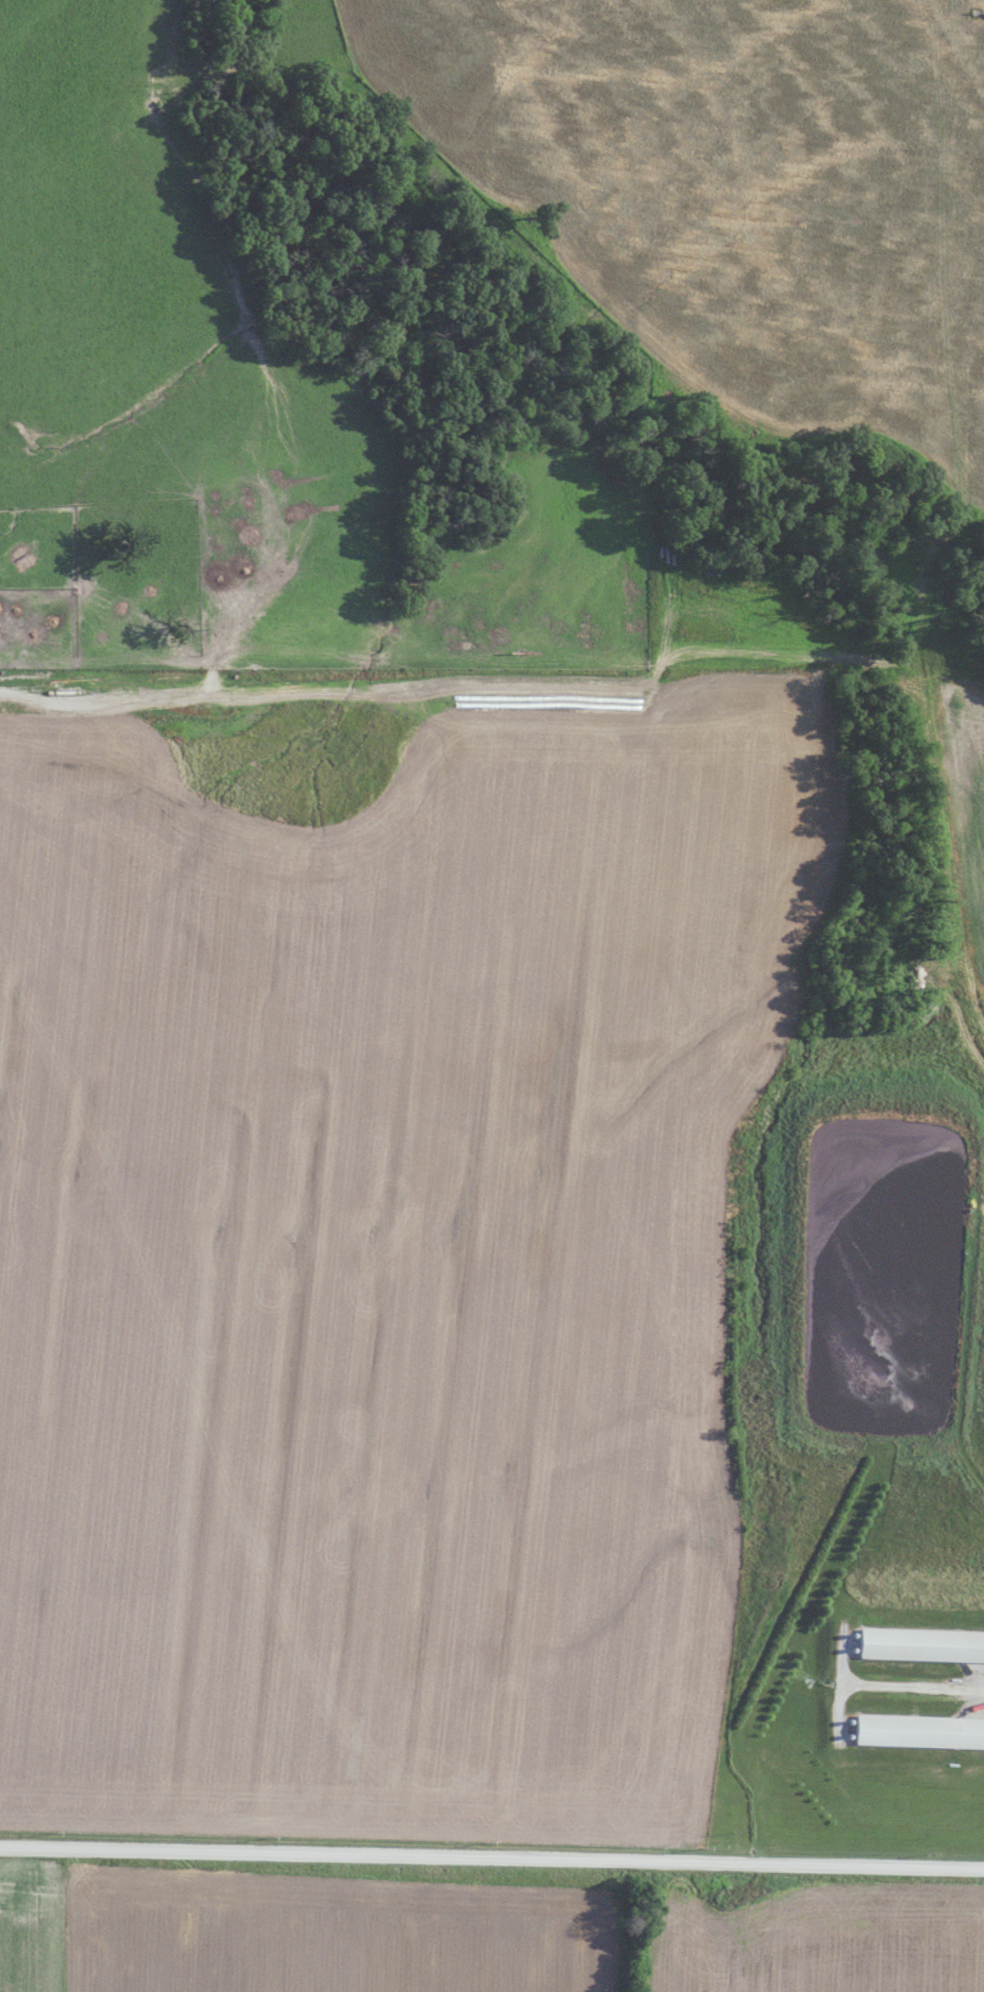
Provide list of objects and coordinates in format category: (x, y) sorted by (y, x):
building: (917, 1647)
building: (916, 1733)
road: (492, 1860)

